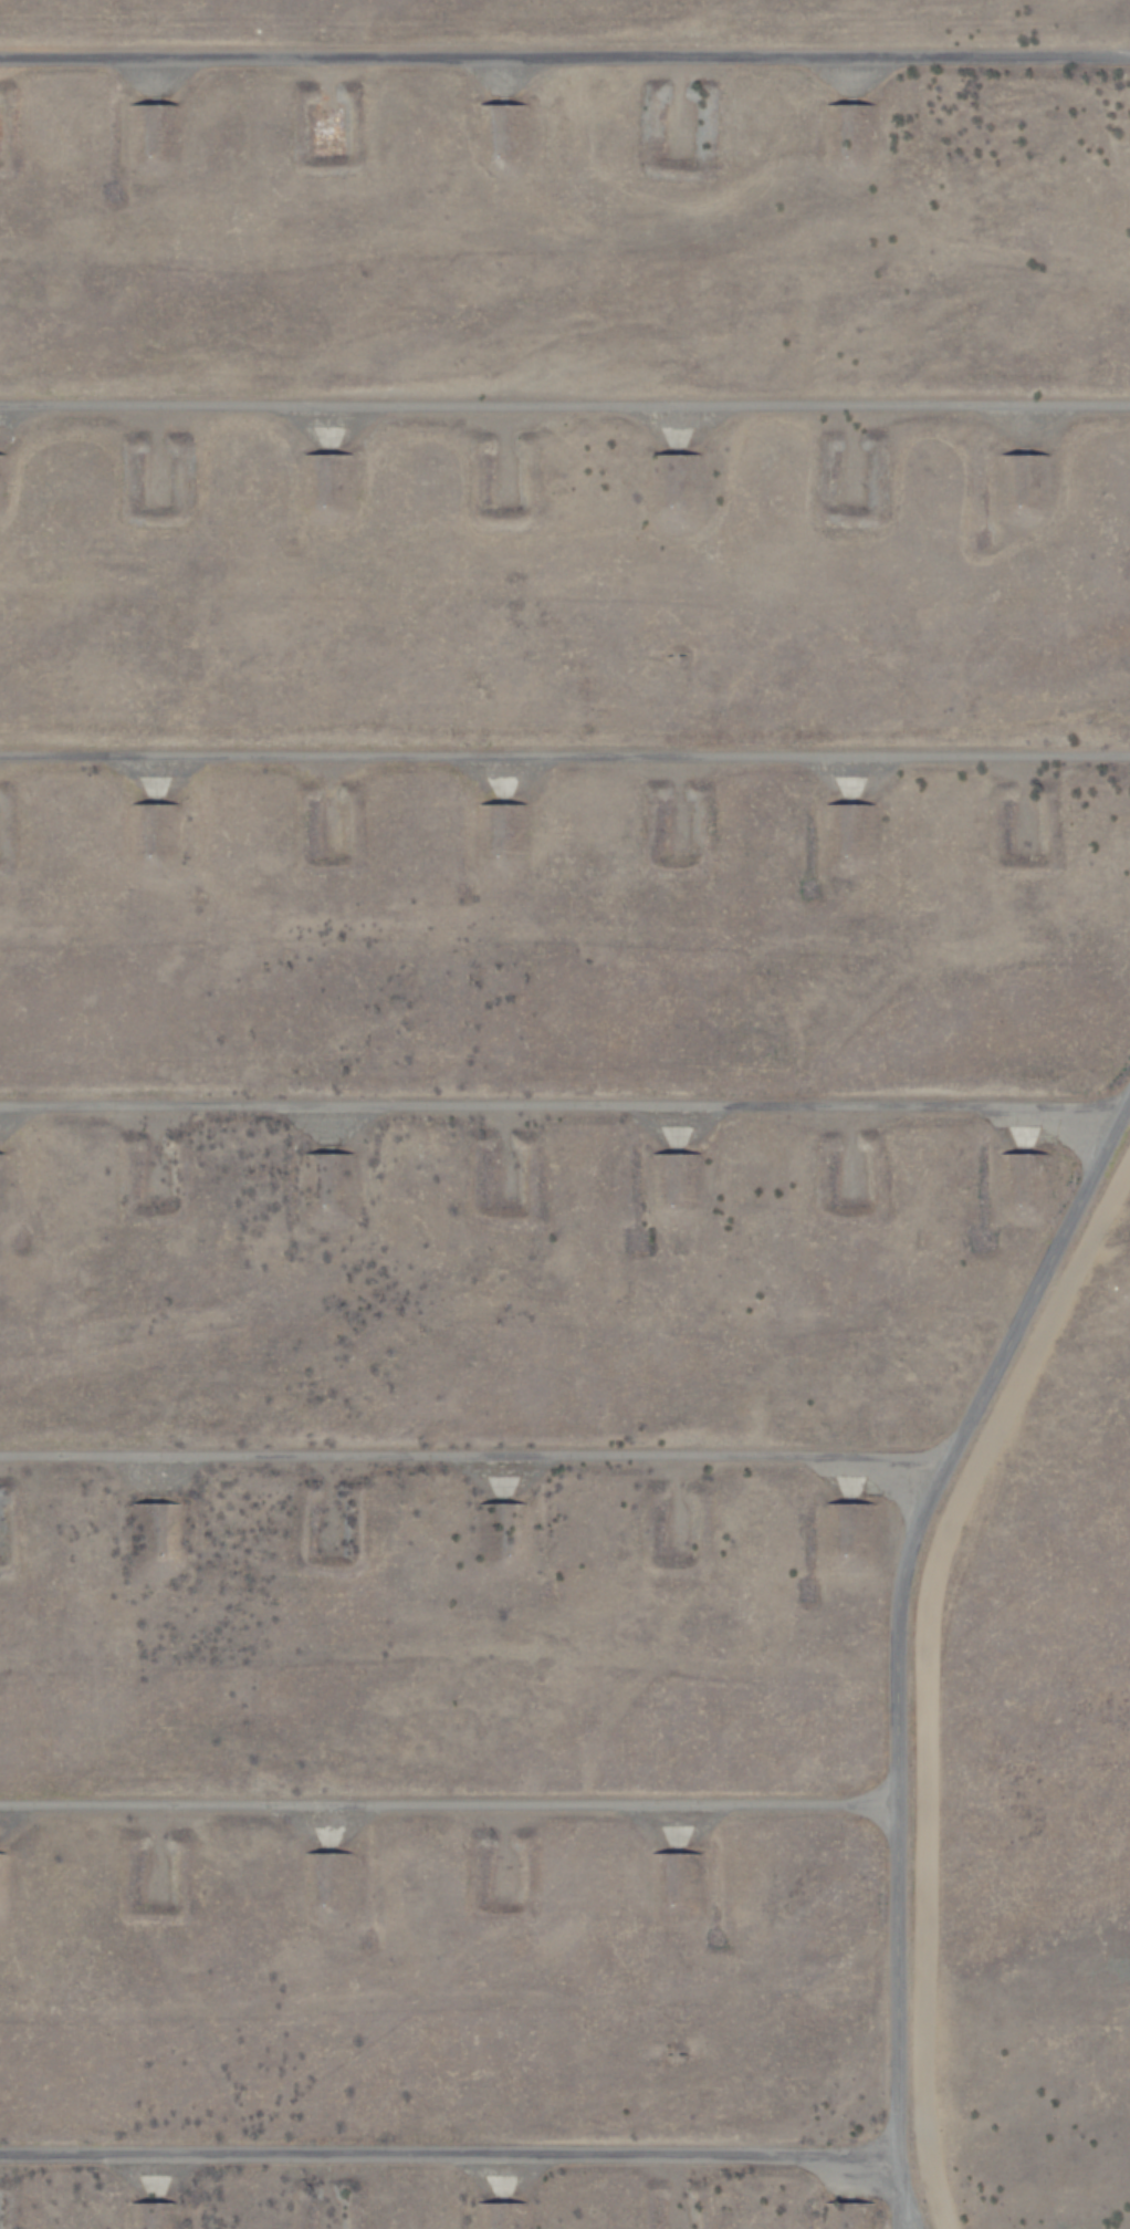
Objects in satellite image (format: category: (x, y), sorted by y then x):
road: (565, 60)
road: (565, 387)
road: (565, 740)
road: (563, 1067)
road: (465, 1446)
road: (887, 1615)
road: (428, 1803)
road: (486, 2162)

